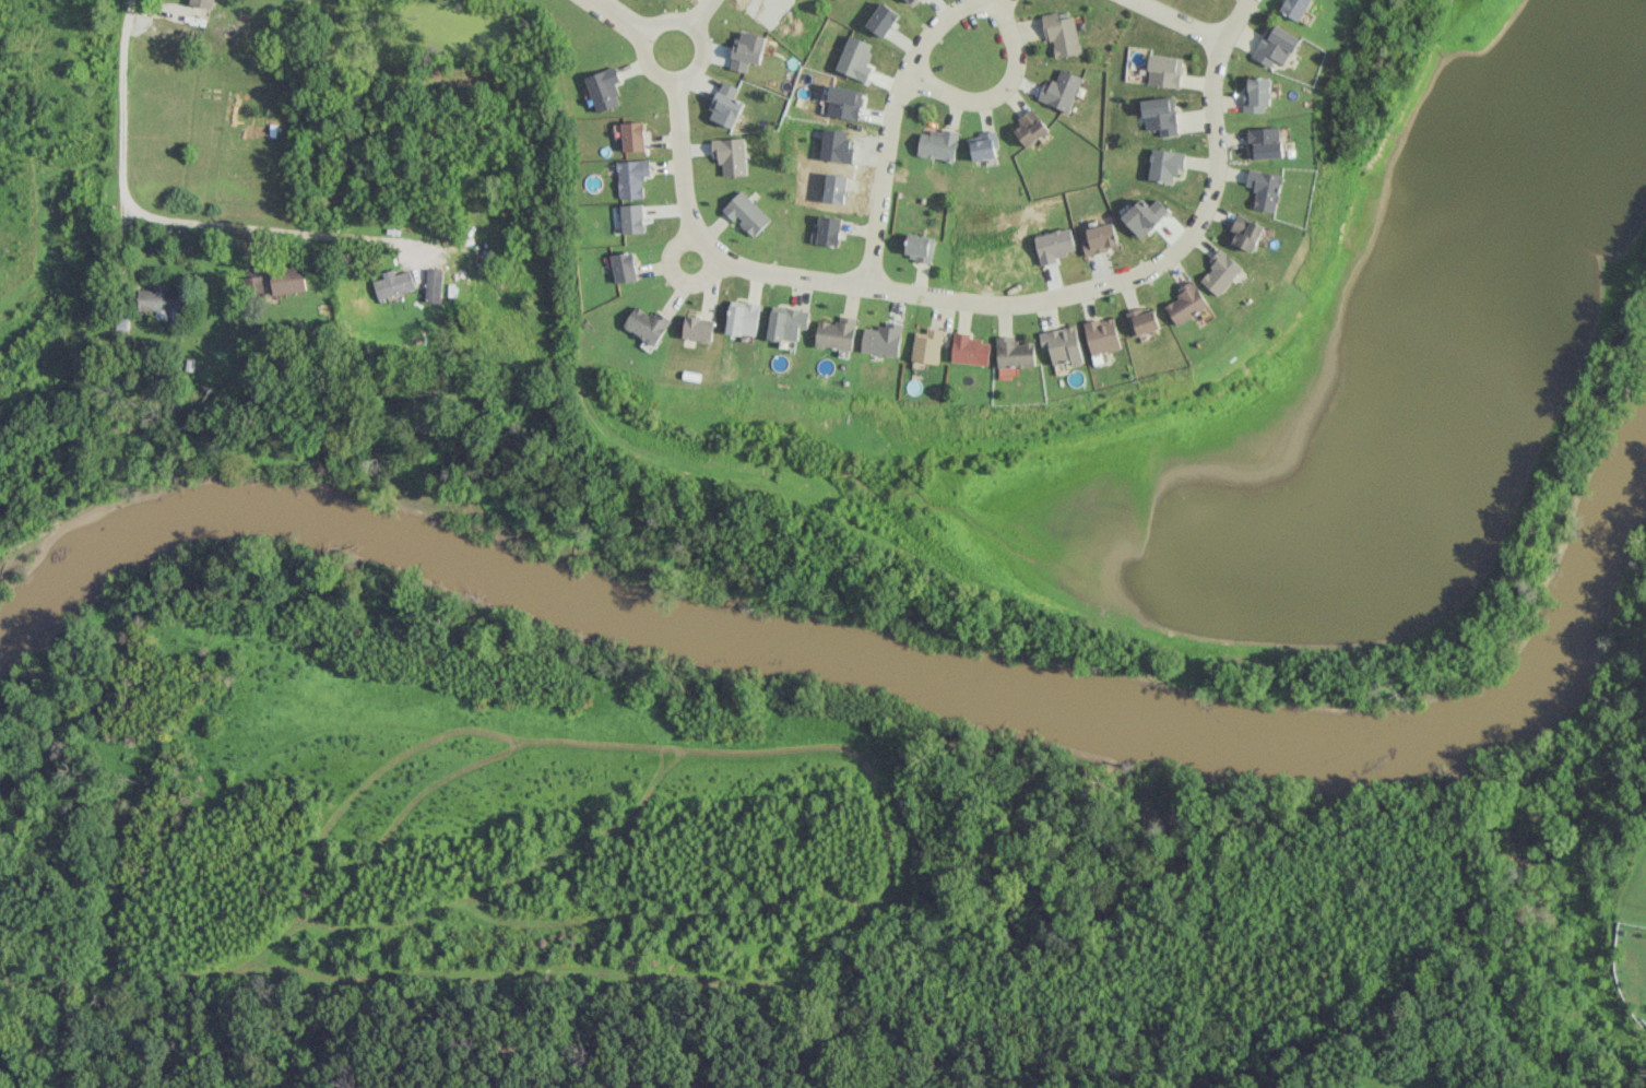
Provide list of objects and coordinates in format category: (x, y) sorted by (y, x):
building: (910, 0)
building: (203, 2)
building: (1294, 8)
road: (702, 13)
road: (621, 17)
building: (881, 19)
road: (1177, 22)
building: (1061, 34)
building: (1275, 45)
building: (747, 50)
road: (704, 59)
building: (1164, 70)
building: (604, 88)
road: (996, 90)
building: (1061, 90)
building: (1256, 94)
building: (726, 105)
building: (1160, 115)
building: (1030, 128)
road: (888, 131)
building: (633, 135)
road: (121, 141)
building: (1265, 142)
building: (938, 144)
building: (983, 145)
building: (730, 155)
road: (680, 159)
building: (1165, 164)
building: (631, 177)
building: (1266, 188)
building: (746, 212)
building: (632, 217)
building: (828, 229)
road: (271, 230)
building: (1246, 232)
building: (1100, 238)
building: (920, 247)
road: (717, 261)
building: (624, 267)
building: (1221, 271)
building: (288, 279)
building: (253, 283)
building: (393, 283)
building: (433, 284)
road: (1085, 287)
building: (1187, 303)
building: (742, 318)
building: (1144, 319)
building: (786, 322)
building: (644, 323)
building: (697, 328)
building: (836, 333)
building: (1103, 335)
building: (883, 339)
building: (927, 345)
building: (1063, 345)
building: (971, 350)
building: (1015, 352)

